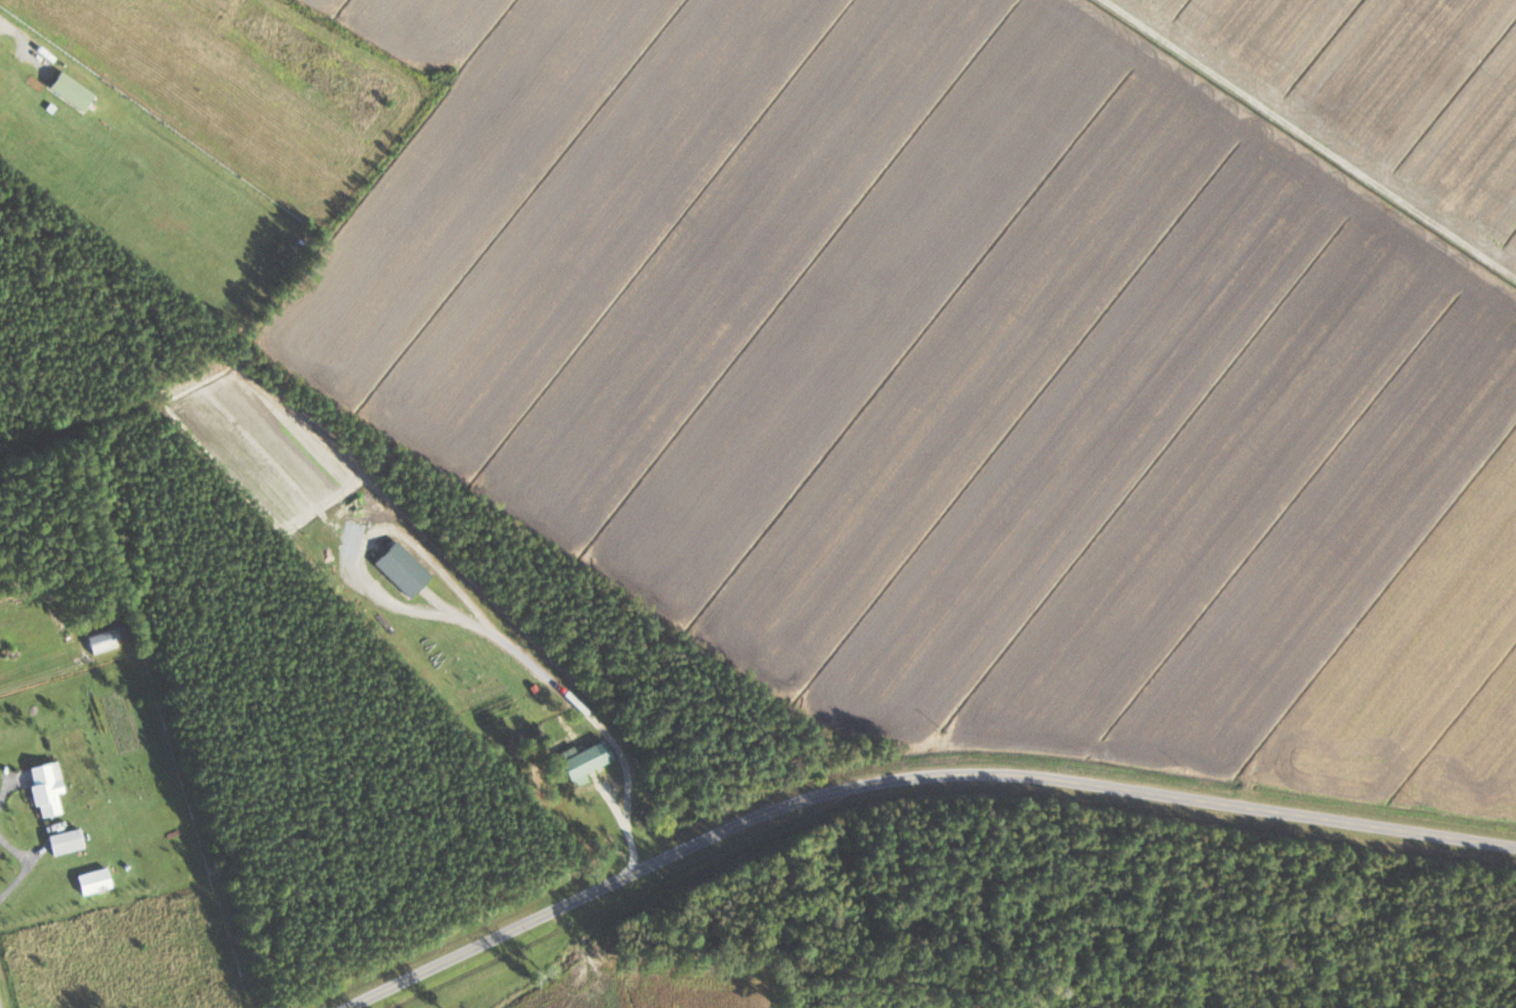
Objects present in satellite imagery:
building: (69, 90)
building: (100, 642)
road: (46, 675)
building: (578, 762)
road: (906, 777)
building: (43, 791)
building: (64, 842)

